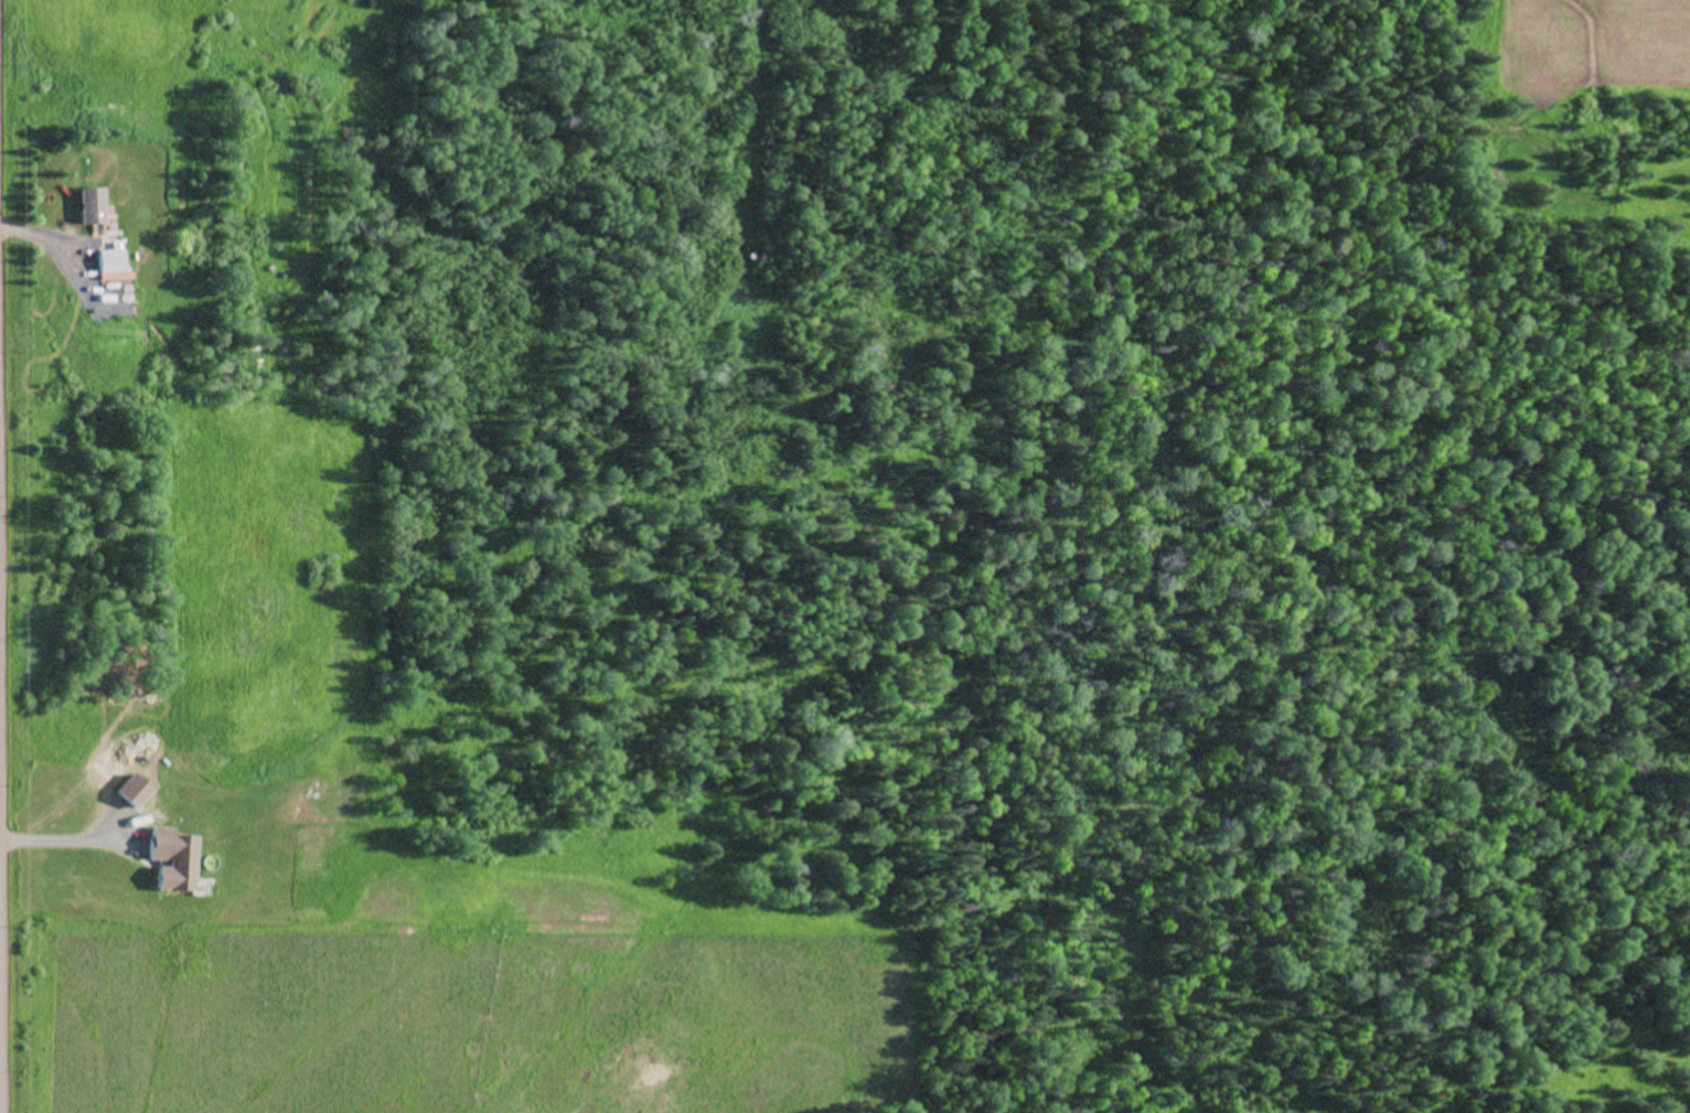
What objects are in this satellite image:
building: (85, 206)
building: (105, 266)
building: (127, 792)
building: (167, 860)
crop: (450, 1017)

